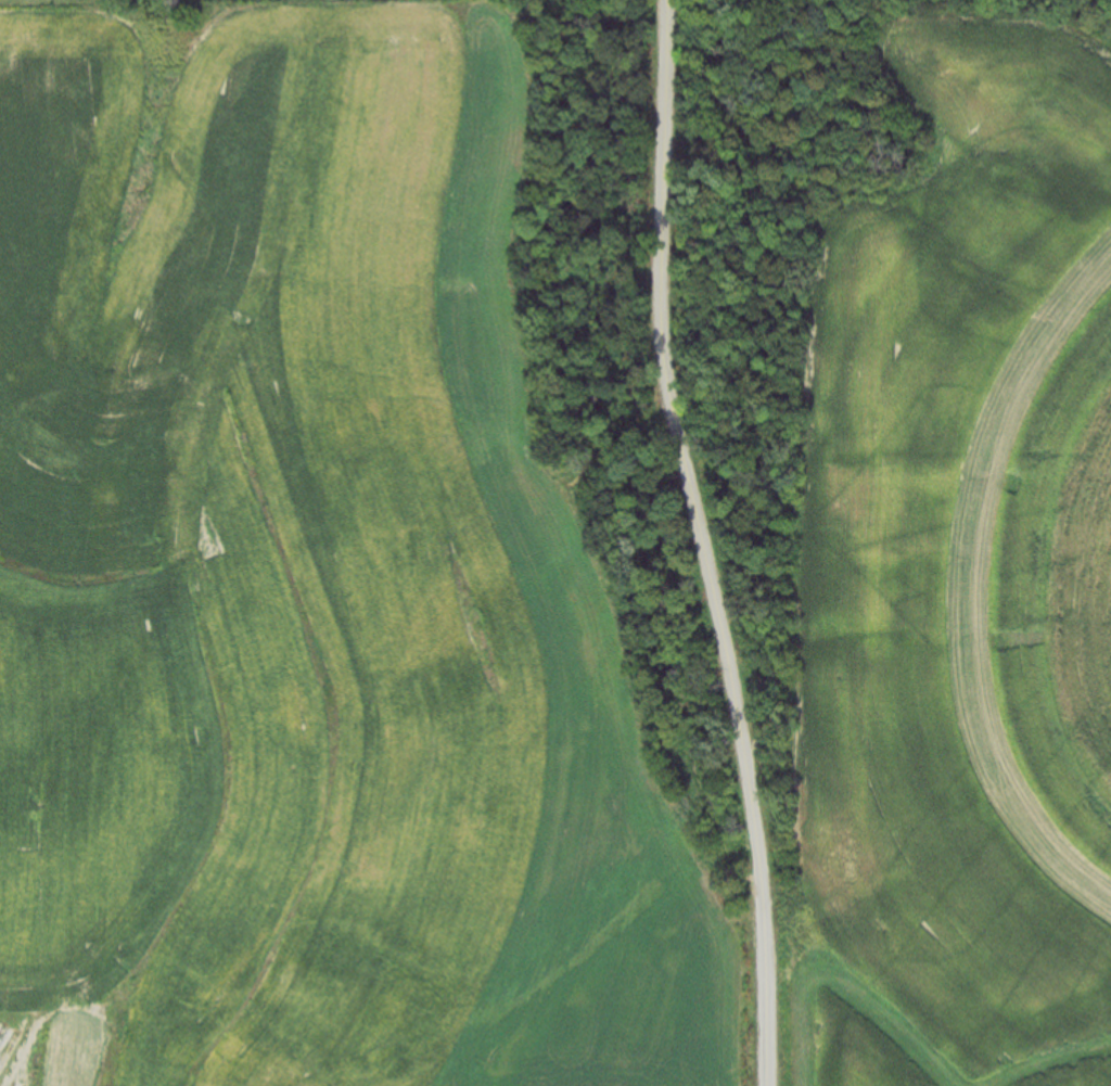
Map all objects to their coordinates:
road: (665, 2)
road: (704, 545)

